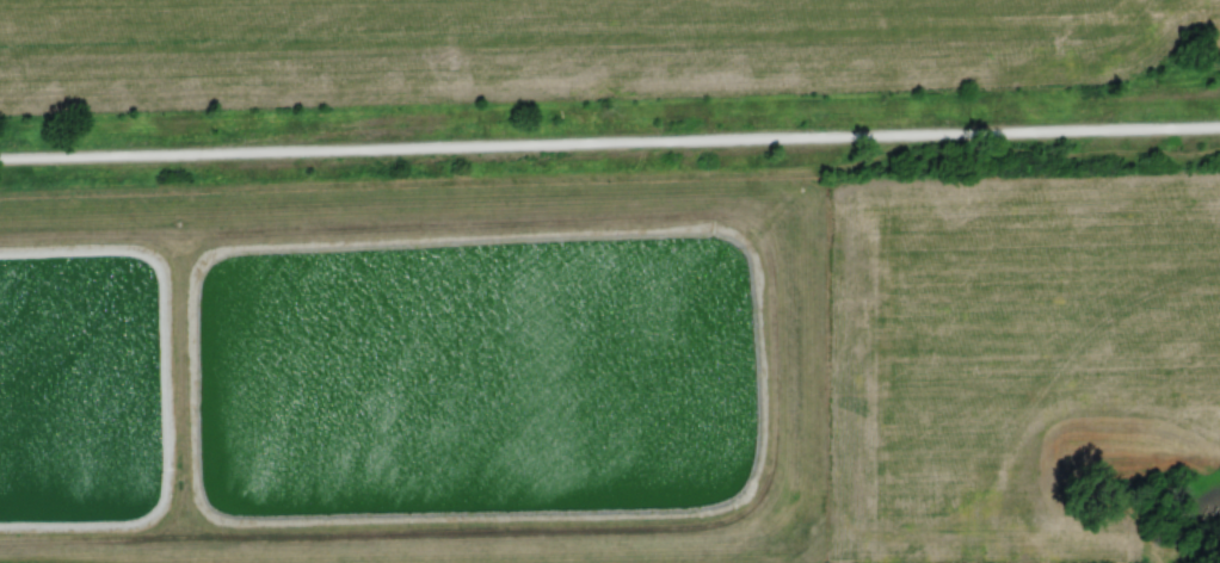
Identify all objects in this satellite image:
crop: (552, 49)
road: (610, 148)

